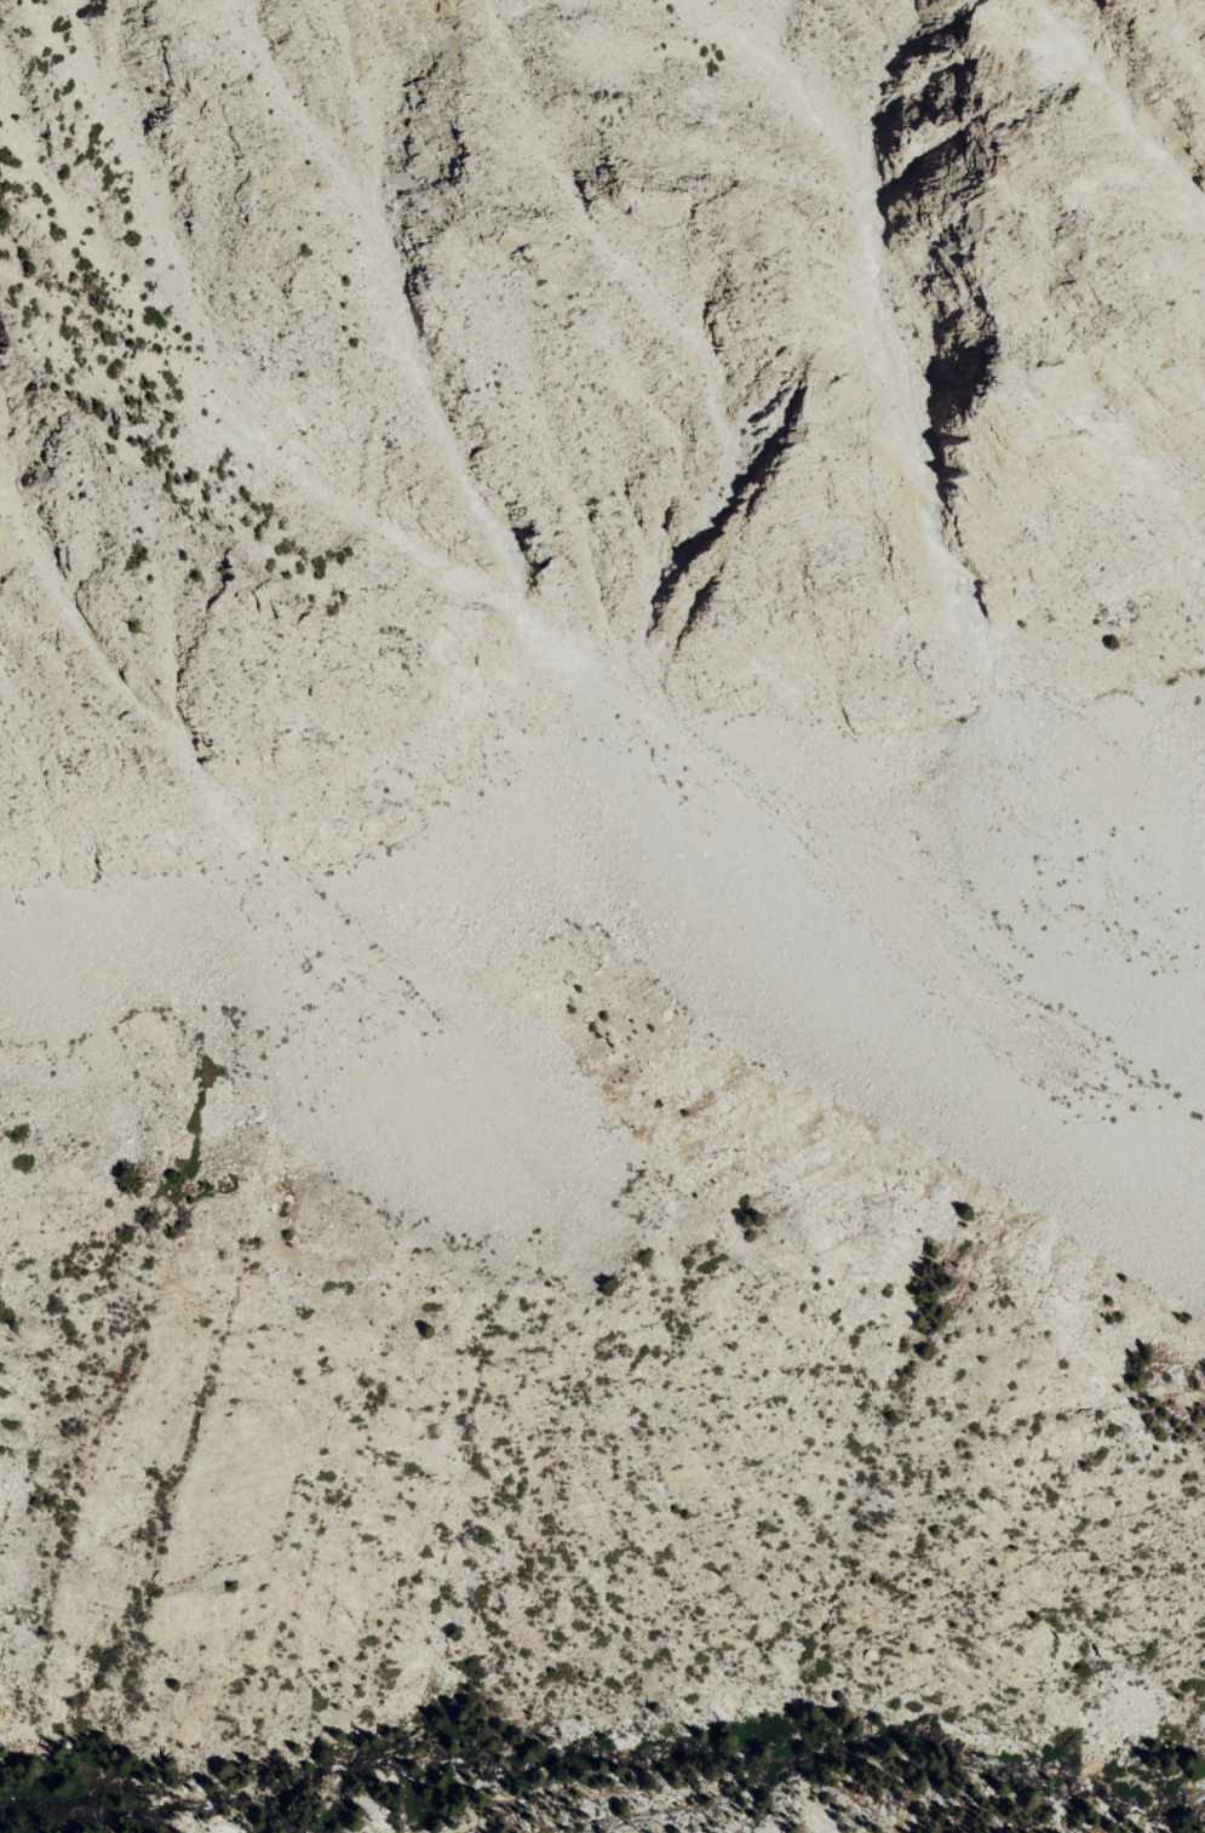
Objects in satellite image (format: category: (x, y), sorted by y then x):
road: (637, 1792)
road: (216, 1815)

